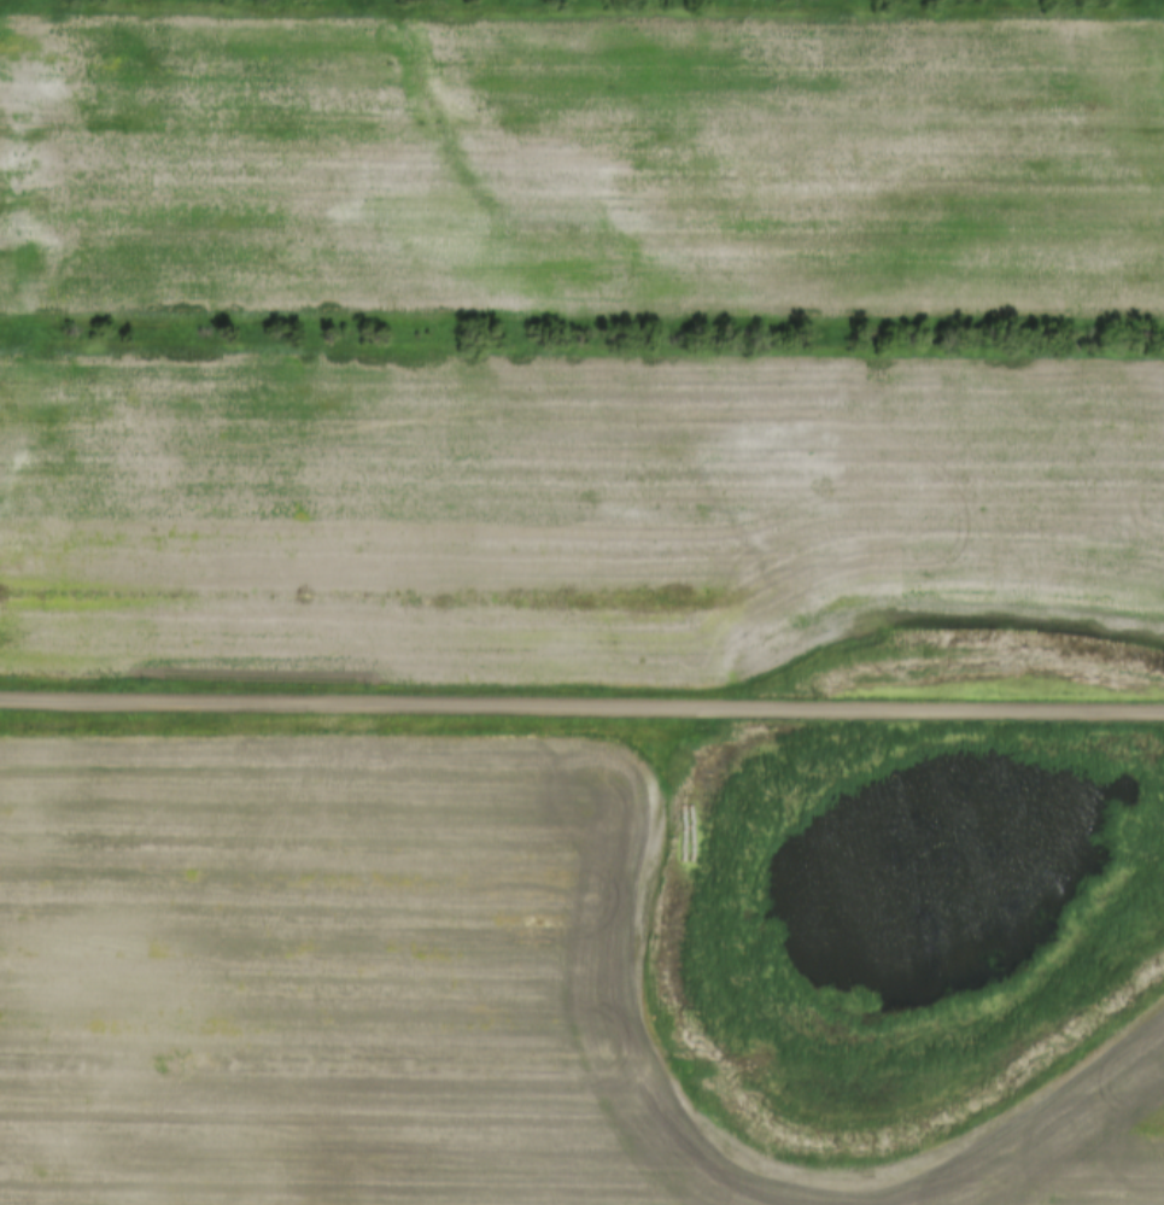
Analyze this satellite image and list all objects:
road: (581, 708)

